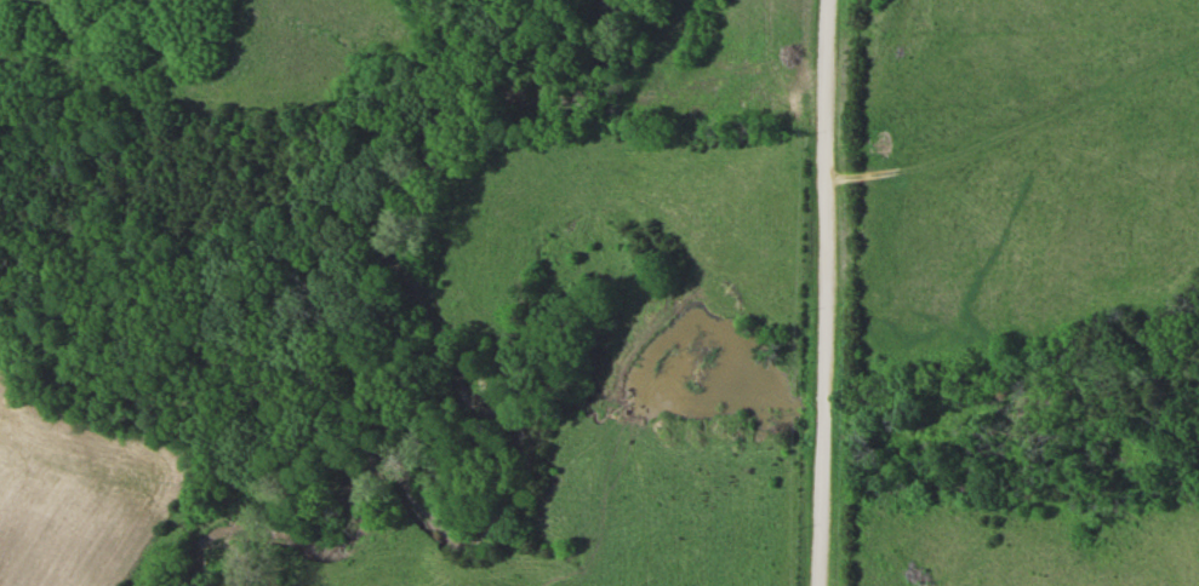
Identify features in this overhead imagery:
road: (823, 292)

